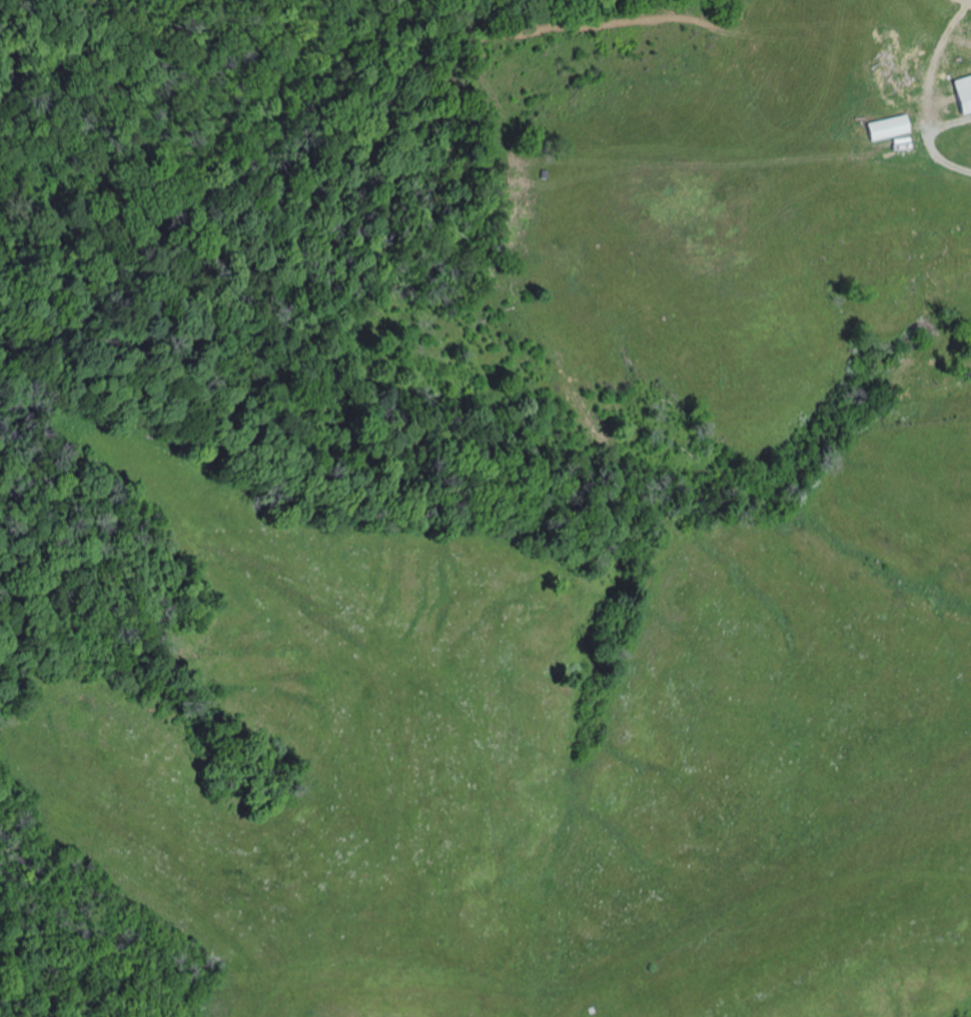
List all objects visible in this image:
building: (965, 93)
building: (892, 128)

